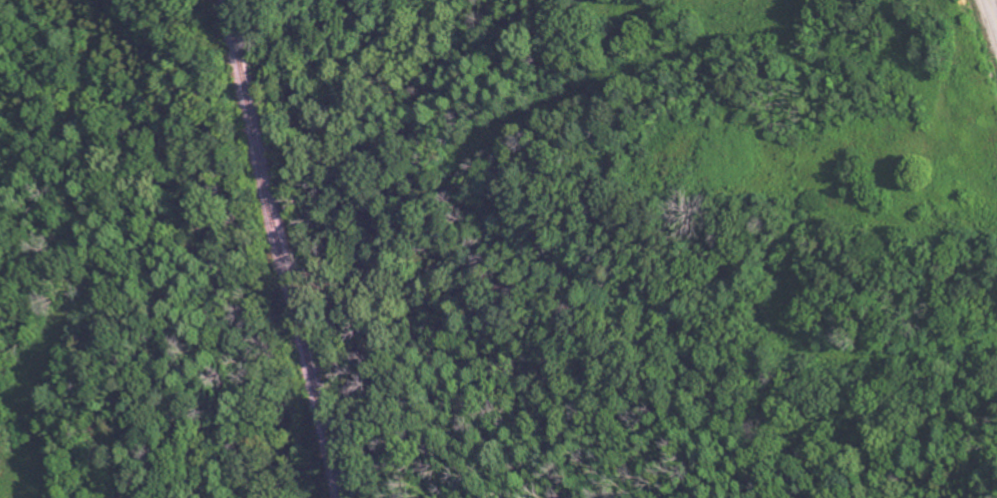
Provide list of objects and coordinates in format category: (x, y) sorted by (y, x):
road: (991, 15)
railway: (285, 248)

